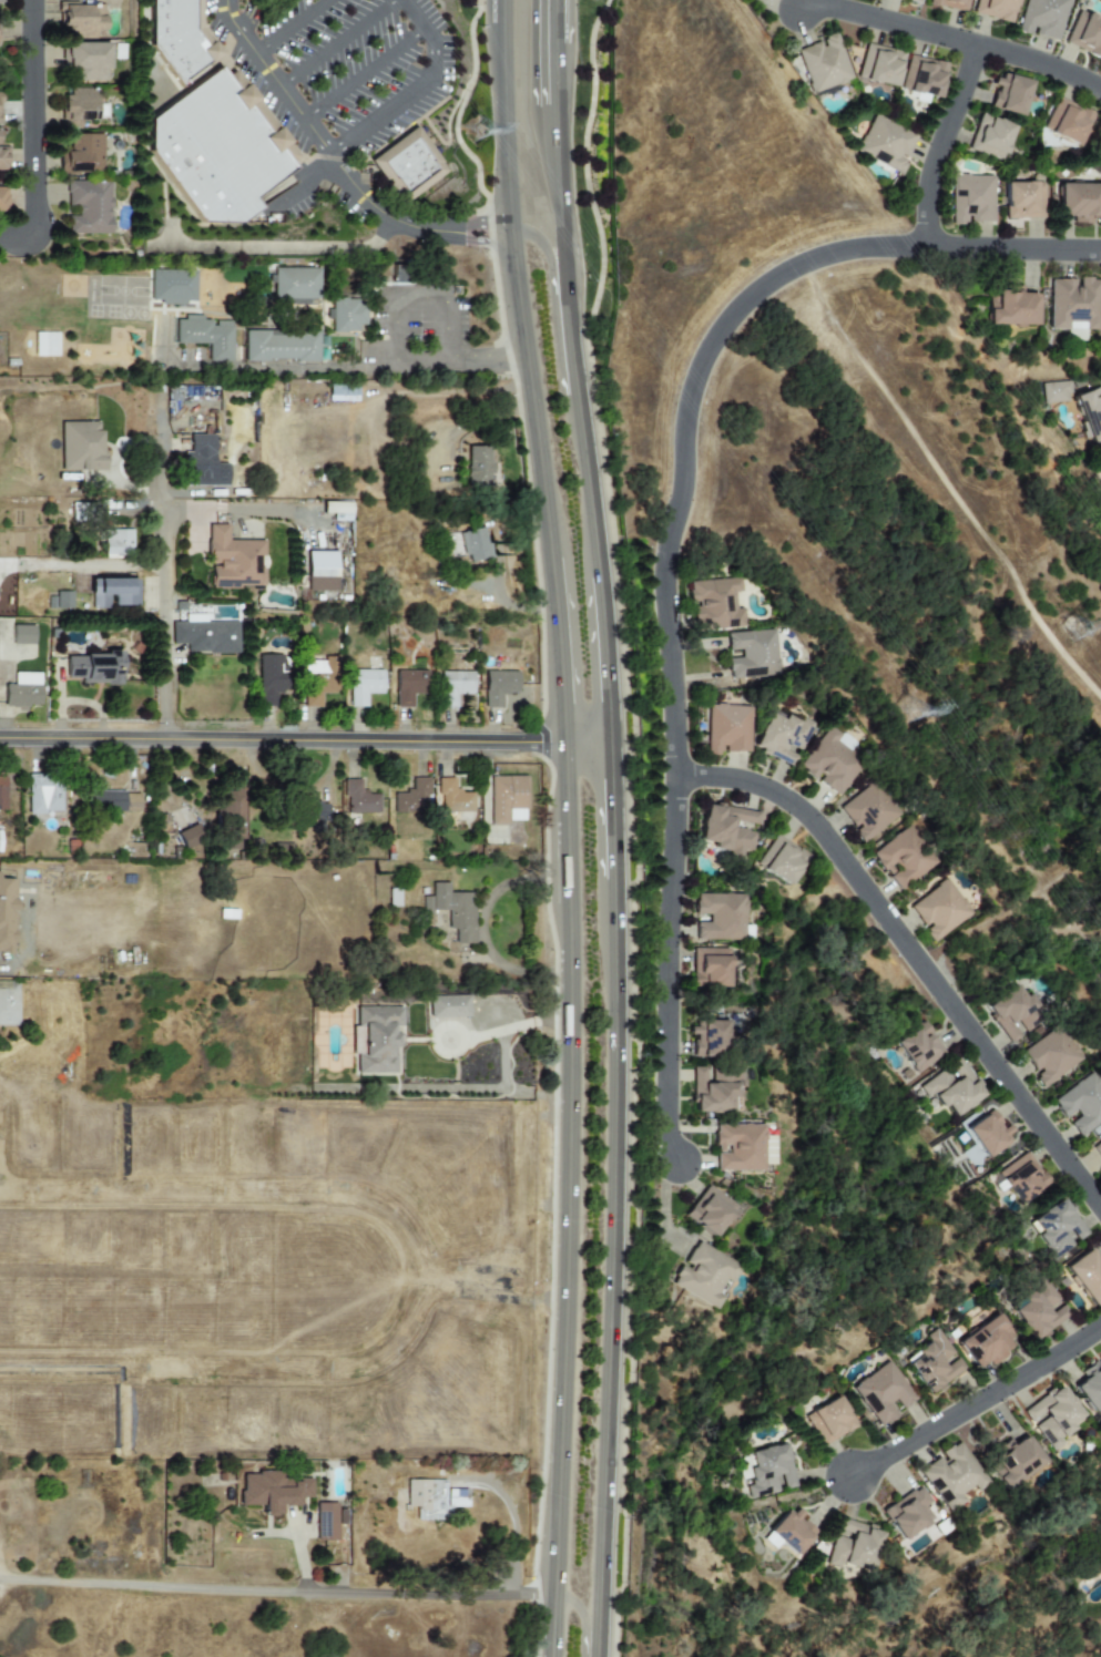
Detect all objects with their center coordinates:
building: (0, 1)
building: (914, 1)
building: (950, 4)
building: (995, 9)
road: (501, 10)
building: (1042, 18)
building: (82, 20)
road: (555, 21)
road: (289, 24)
road: (894, 24)
building: (1084, 34)
building: (182, 40)
road: (337, 42)
building: (85, 61)
building: (824, 63)
road: (1042, 64)
building: (879, 65)
road: (555, 73)
road: (367, 75)
building: (922, 76)
road: (276, 80)
road: (418, 88)
building: (1009, 94)
road: (555, 105)
building: (77, 106)
building: (1066, 121)
power tower: (473, 129)
road: (31, 134)
building: (990, 137)
building: (886, 144)
road: (944, 144)
building: (81, 155)
building: (2, 157)
building: (223, 158)
building: (416, 170)
road: (307, 183)
building: (971, 198)
building: (2, 201)
building: (1023, 201)
building: (1080, 202)
building: (88, 206)
road: (560, 207)
road: (407, 225)
road: (170, 234)
road: (276, 248)
road: (1016, 248)
road: (547, 259)
building: (294, 286)
building: (172, 287)
road: (511, 290)
road: (420, 294)
building: (1073, 304)
building: (1010, 307)
building: (347, 315)
building: (205, 336)
building: (43, 344)
building: (281, 346)
road: (575, 349)
road: (315, 370)
building: (1054, 392)
road: (399, 393)
building: (1089, 412)
road: (478, 421)
road: (691, 439)
building: (81, 446)
road: (159, 460)
building: (204, 463)
building: (476, 468)
road: (592, 471)
building: (339, 510)
building: (118, 543)
building: (466, 545)
building: (233, 560)
road: (83, 566)
building: (320, 571)
building: (113, 592)
building: (62, 600)
building: (714, 604)
road: (510, 605)
road: (166, 624)
power tower: (1074, 632)
building: (22, 634)
building: (205, 635)
road: (614, 647)
road: (552, 651)
building: (752, 654)
building: (94, 668)
building: (269, 681)
building: (318, 681)
building: (364, 686)
building: (408, 686)
building: (455, 686)
building: (499, 687)
building: (22, 691)
power tower: (897, 713)
building: (727, 729)
building: (782, 737)
road: (279, 739)
road: (591, 743)
road: (562, 785)
building: (2, 792)
building: (44, 794)
building: (412, 798)
building: (453, 798)
building: (359, 799)
building: (507, 799)
building: (112, 800)
building: (868, 812)
building: (314, 814)
building: (233, 819)
road: (624, 821)
building: (726, 828)
building: (191, 836)
road: (532, 848)
building: (0, 850)
building: (904, 858)
building: (781, 860)
road: (565, 865)
building: (394, 898)
building: (939, 910)
building: (452, 911)
building: (6, 914)
building: (720, 917)
road: (485, 929)
road: (914, 953)
building: (710, 968)
road: (673, 974)
building: (9, 1003)
building: (448, 1006)
building: (1012, 1014)
road: (523, 1021)
building: (375, 1039)
building: (707, 1040)
building: (917, 1047)
building: (1051, 1056)
building: (714, 1090)
building: (951, 1090)
building: (1081, 1104)
building: (988, 1133)
building: (738, 1147)
building: (1097, 1148)
building: (1021, 1178)
building: (708, 1210)
building: (1056, 1228)
building: (704, 1275)
building: (1085, 1276)
road: (564, 1279)
road: (624, 1279)
road: (495, 1297)
building: (1038, 1310)
road: (436, 1311)
building: (986, 1342)
building: (932, 1362)
building: (1090, 1385)
building: (880, 1393)
road: (978, 1407)
building: (1051, 1416)
building: (827, 1421)
building: (1013, 1461)
building: (768, 1471)
building: (951, 1475)
building: (273, 1492)
building: (432, 1499)
building: (906, 1513)
building: (326, 1522)
building: (791, 1532)
building: (852, 1547)
road: (276, 1590)
road: (582, 1618)

